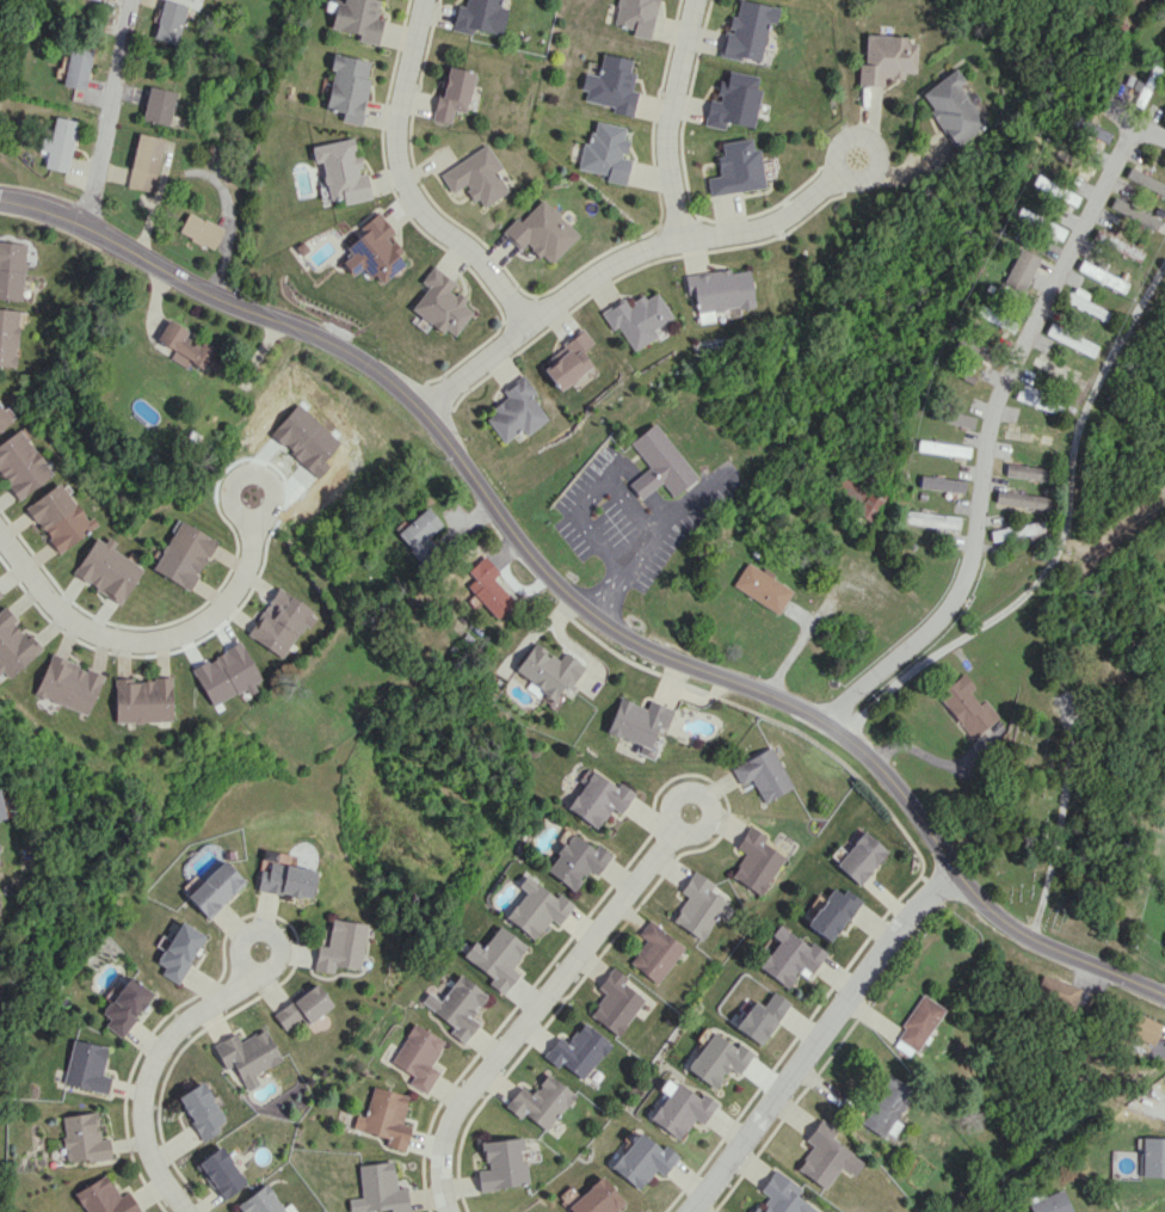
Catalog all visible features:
building: (99, 0)
building: (479, 16)
building: (635, 16)
building: (357, 19)
building: (168, 20)
building: (744, 31)
building: (883, 59)
building: (76, 64)
building: (610, 85)
building: (347, 87)
building: (452, 94)
building: (731, 100)
building: (158, 105)
building: (950, 107)
road: (110, 112)
road: (666, 118)
building: (1090, 129)
building: (57, 144)
building: (604, 152)
building: (144, 161)
building: (733, 168)
building: (340, 171)
road: (838, 171)
building: (476, 176)
road: (405, 185)
building: (199, 229)
building: (1052, 229)
building: (542, 232)
building: (1117, 245)
building: (372, 250)
road: (617, 262)
building: (11, 269)
building: (1019, 270)
building: (1104, 276)
building: (717, 291)
building: (440, 302)
building: (1084, 302)
building: (987, 315)
building: (637, 318)
building: (7, 336)
building: (1071, 339)
building: (186, 347)
building: (568, 361)
building: (1037, 398)
building: (516, 411)
building: (5, 417)
building: (958, 418)
road: (991, 424)
building: (942, 448)
building: (658, 463)
building: (19, 465)
building: (1024, 470)
building: (941, 484)
road: (588, 498)
building: (1021, 500)
road: (235, 504)
building: (868, 504)
building: (57, 516)
building: (931, 518)
building: (1016, 530)
building: (419, 533)
road: (651, 537)
road: (1064, 537)
building: (183, 554)
building: (106, 570)
building: (763, 587)
building: (489, 593)
road: (580, 599)
building: (281, 622)
road: (144, 636)
building: (13, 644)
building: (548, 669)
building: (67, 683)
building: (141, 700)
building: (966, 706)
building: (636, 720)
building: (762, 774)
building: (593, 796)
park: (1044, 801)
building: (0, 812)
road: (673, 823)
building: (859, 857)
building: (754, 860)
building: (574, 861)
building: (285, 880)
building: (212, 888)
building: (698, 905)
building: (534, 908)
building: (831, 912)
building: (340, 946)
building: (1164, 947)
building: (177, 950)
building: (654, 952)
building: (494, 956)
building: (789, 956)
road: (245, 961)
building: (1055, 990)
building: (614, 1002)
building: (122, 1003)
building: (303, 1007)
building: (456, 1007)
road: (535, 1009)
building: (760, 1017)
building: (918, 1022)
building: (1144, 1028)
road: (815, 1036)
building: (577, 1050)
building: (247, 1054)
building: (418, 1056)
building: (716, 1059)
building: (85, 1066)
road: (146, 1072)
building: (540, 1101)
building: (886, 1107)
building: (199, 1109)
building: (679, 1109)
building: (386, 1116)
building: (81, 1138)
building: (826, 1156)
building: (1152, 1156)
building: (641, 1159)
building: (501, 1163)
building: (220, 1173)
building: (380, 1189)
building: (781, 1195)
building: (103, 1198)
building: (594, 1199)
building: (260, 1201)
building: (1049, 1202)

